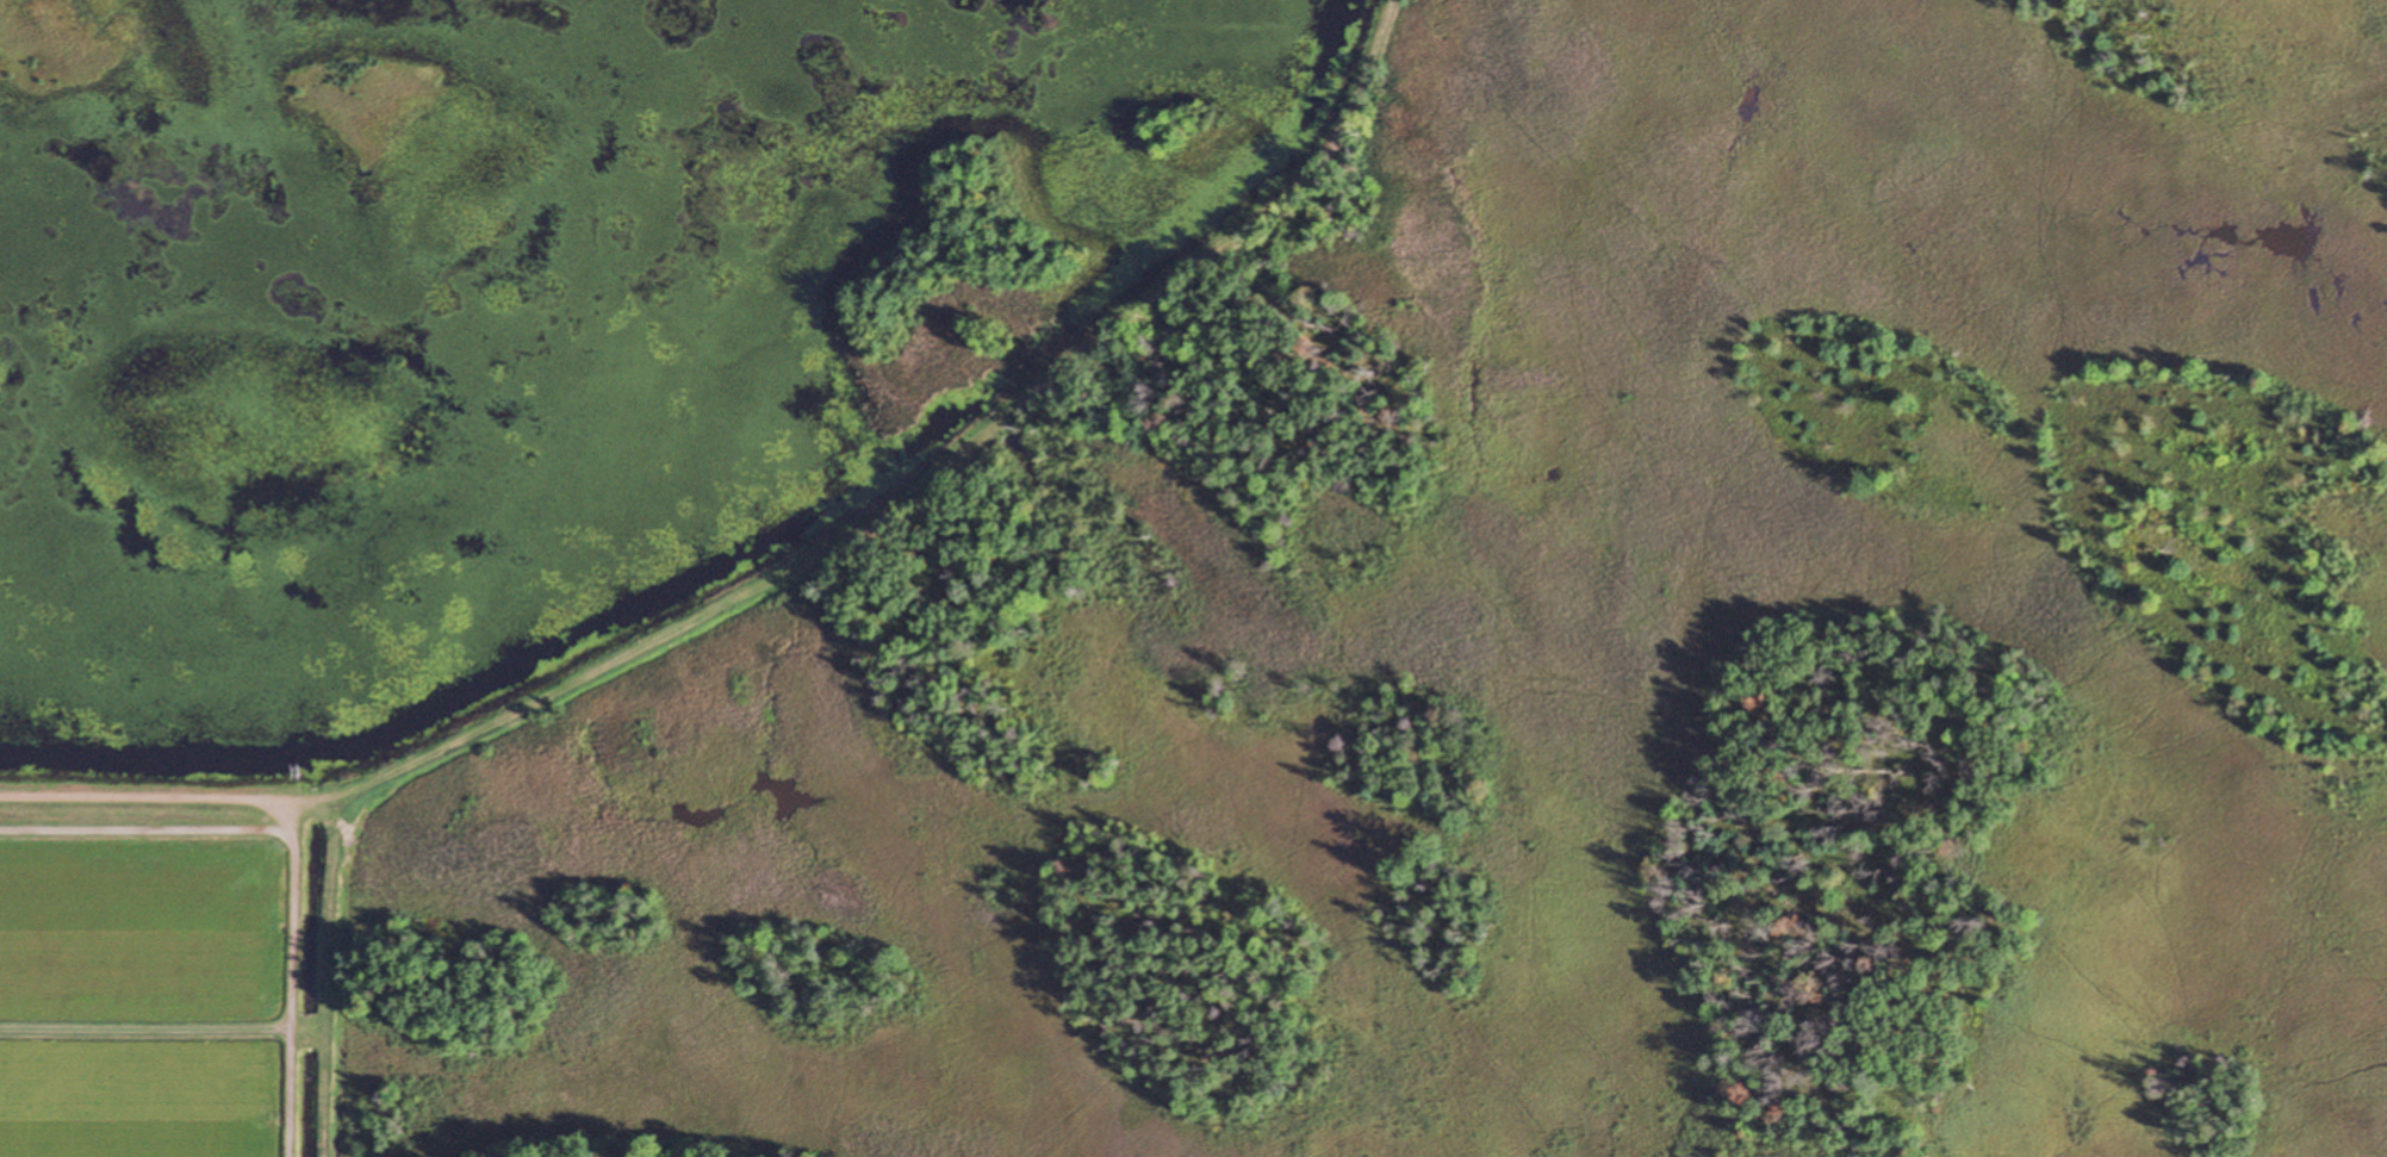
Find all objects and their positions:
crop: (162, 962)

